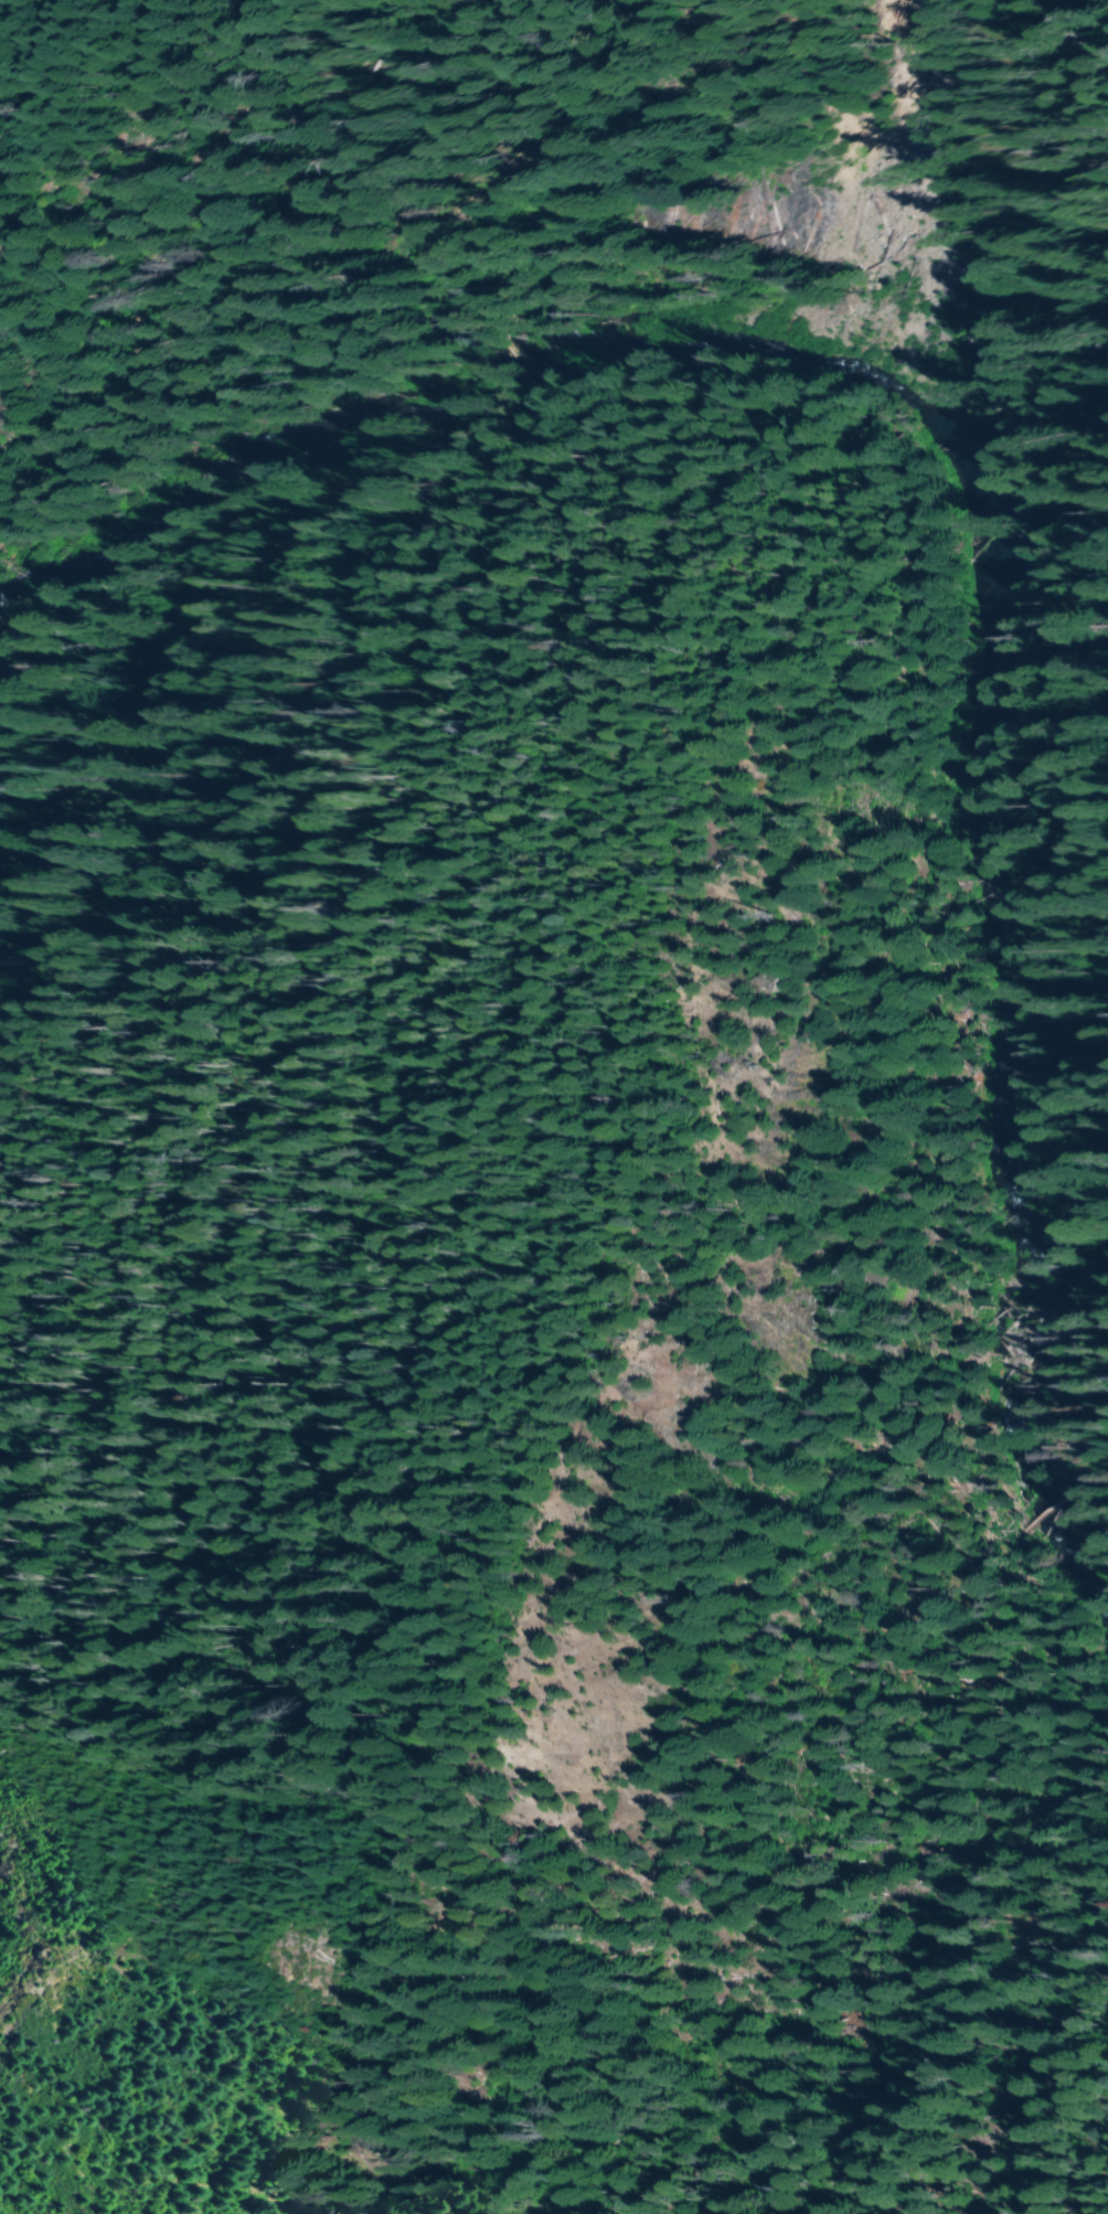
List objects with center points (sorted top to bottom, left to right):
river: (972, 509)
road: (880, 520)

